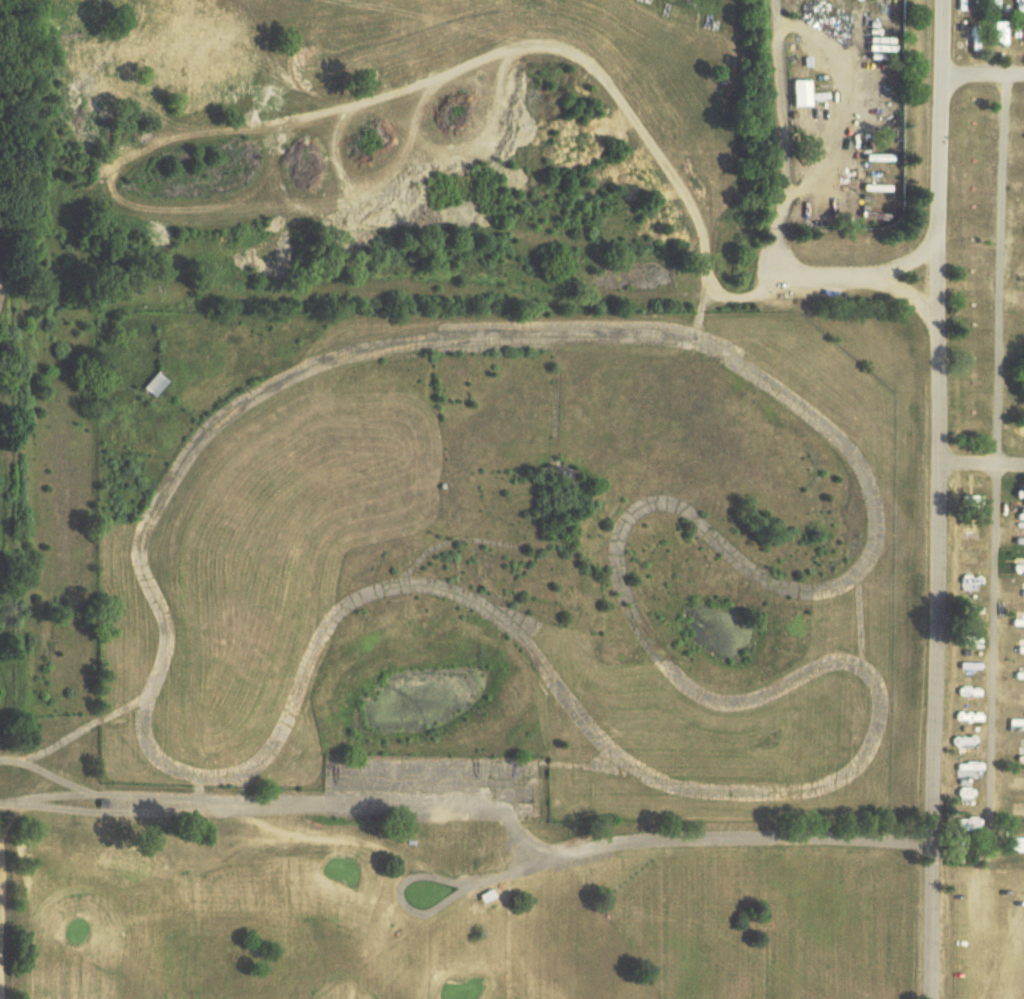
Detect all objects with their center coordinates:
building: (994, 6)
road: (981, 75)
building: (796, 93)
road: (615, 104)
road: (780, 139)
road: (905, 261)
building: (1023, 328)
building: (149, 384)
road: (992, 457)
road: (978, 463)
road: (932, 499)
road: (717, 537)
building: (1018, 623)
building: (970, 717)
building: (1018, 725)
road: (82, 730)
building: (1020, 784)
road: (197, 791)
road: (53, 796)
road: (279, 805)
road: (70, 808)
building: (972, 823)
road: (612, 843)
building: (1020, 844)

